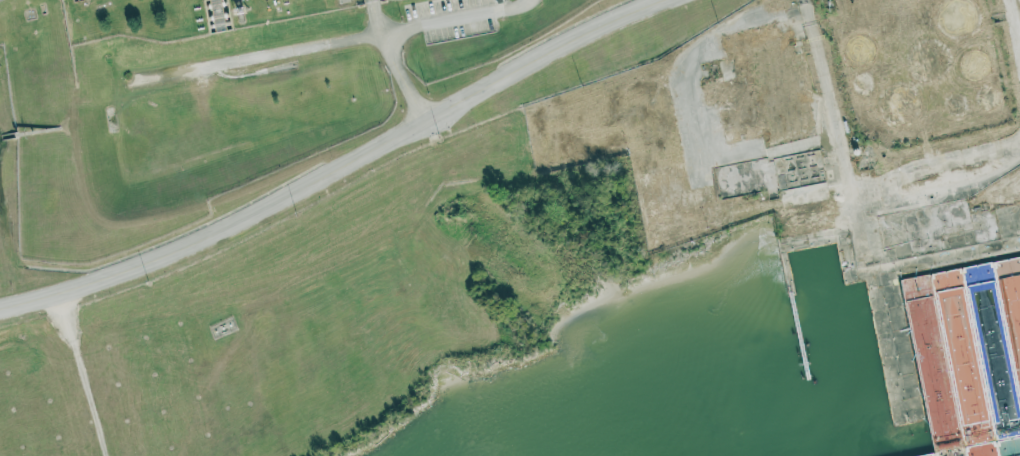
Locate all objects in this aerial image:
road: (539, 1)
road: (1013, 33)
road: (269, 58)
road: (396, 62)
road: (339, 165)
road: (936, 194)
road: (850, 209)
road: (948, 258)
road: (80, 374)

